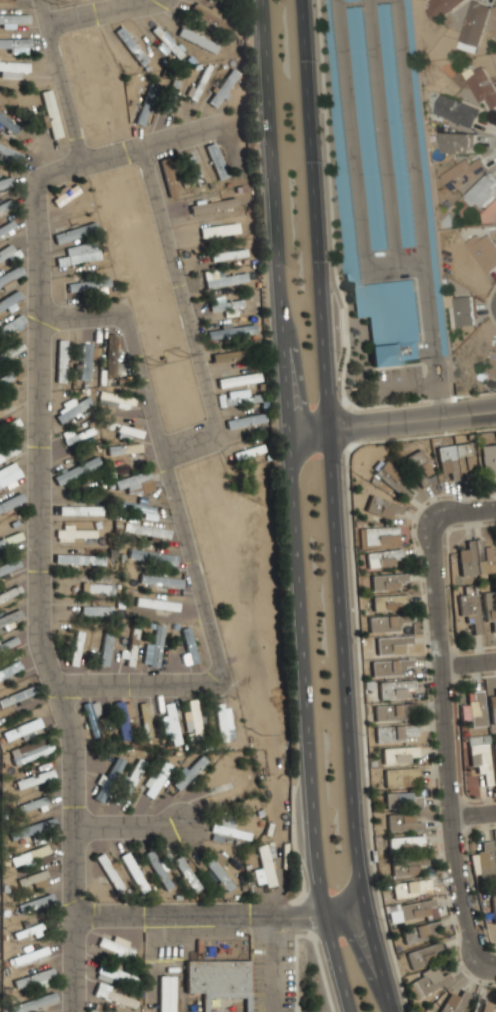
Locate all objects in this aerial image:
power tower: (55, 0)
building: (6, 1)
building: (439, 8)
road: (92, 13)
building: (209, 15)
building: (12, 16)
building: (495, 24)
building: (473, 26)
building: (199, 39)
building: (165, 42)
building: (13, 44)
building: (129, 46)
building: (12, 66)
building: (197, 82)
road: (59, 83)
building: (223, 85)
building: (173, 87)
building: (482, 87)
building: (144, 103)
building: (456, 111)
building: (50, 112)
building: (395, 123)
building: (11, 125)
building: (365, 125)
road: (167, 140)
building: (456, 143)
building: (9, 155)
building: (214, 159)
building: (194, 168)
building: (424, 173)
building: (462, 173)
building: (7, 181)
building: (169, 183)
building: (483, 191)
building: (64, 192)
building: (9, 203)
building: (216, 204)
building: (344, 217)
building: (6, 228)
building: (218, 229)
building: (74, 231)
building: (7, 250)
building: (483, 251)
building: (228, 253)
building: (76, 256)
building: (9, 277)
building: (224, 277)
building: (86, 284)
road: (179, 292)
building: (9, 302)
building: (224, 303)
building: (463, 311)
road: (78, 318)
building: (8, 325)
building: (230, 330)
building: (10, 348)
building: (95, 352)
building: (109, 354)
power tower: (179, 355)
building: (227, 355)
building: (59, 359)
building: (84, 360)
power tower: (152, 363)
building: (237, 378)
building: (4, 381)
road: (283, 394)
building: (115, 397)
building: (240, 397)
building: (7, 407)
building: (71, 407)
road: (391, 420)
building: (243, 422)
building: (10, 428)
building: (123, 429)
building: (76, 435)
road: (189, 444)
building: (247, 450)
building: (124, 452)
building: (6, 454)
building: (455, 460)
building: (489, 462)
building: (418, 464)
building: (75, 469)
building: (8, 479)
building: (135, 480)
building: (393, 481)
road: (38, 483)
building: (8, 504)
road: (467, 506)
building: (136, 507)
road: (334, 507)
building: (382, 507)
building: (79, 509)
road: (440, 524)
building: (74, 531)
building: (145, 531)
building: (378, 537)
building: (5, 541)
building: (151, 556)
building: (77, 558)
building: (382, 558)
building: (474, 558)
building: (7, 567)
road: (195, 571)
building: (158, 579)
building: (386, 581)
building: (96, 587)
building: (389, 602)
building: (155, 603)
building: (95, 608)
building: (468, 609)
building: (489, 609)
building: (9, 617)
building: (383, 623)
building: (131, 645)
building: (390, 645)
building: (75, 646)
building: (152, 646)
building: (187, 647)
building: (104, 648)
road: (471, 663)
building: (388, 667)
building: (9, 669)
building: (394, 689)
building: (491, 705)
building: (474, 707)
building: (389, 712)
building: (122, 716)
building: (92, 717)
building: (192, 717)
building: (144, 718)
building: (223, 722)
building: (171, 724)
building: (21, 731)
building: (394, 733)
power tower: (261, 734)
building: (30, 751)
road: (452, 752)
building: (398, 754)
building: (478, 755)
building: (494, 757)
building: (188, 770)
building: (131, 775)
building: (401, 777)
building: (34, 778)
building: (156, 780)
building: (225, 789)
building: (401, 800)
road: (476, 810)
road: (312, 822)
building: (402, 822)
road: (128, 826)
building: (32, 829)
building: (230, 829)
building: (405, 843)
building: (29, 854)
building: (372, 856)
building: (484, 857)
building: (41, 859)
building: (406, 865)
building: (262, 866)
building: (297, 867)
building: (157, 868)
road: (74, 870)
building: (132, 870)
building: (108, 871)
building: (185, 872)
building: (219, 873)
building: (34, 879)
building: (411, 887)
building: (35, 904)
building: (409, 910)
road: (223, 911)
building: (493, 911)
road: (305, 916)
building: (417, 932)
road: (305, 934)
road: (328, 935)
building: (114, 946)
building: (423, 954)
building: (30, 956)
road: (358, 958)
road: (272, 961)
road: (489, 961)
road: (76, 963)
building: (116, 975)
building: (34, 979)
building: (218, 980)
building: (426, 983)
building: (165, 994)
building: (114, 995)
building: (452, 1002)
building: (31, 1003)
building: (481, 1007)
building: (226, 1008)
building: (93, 1009)

